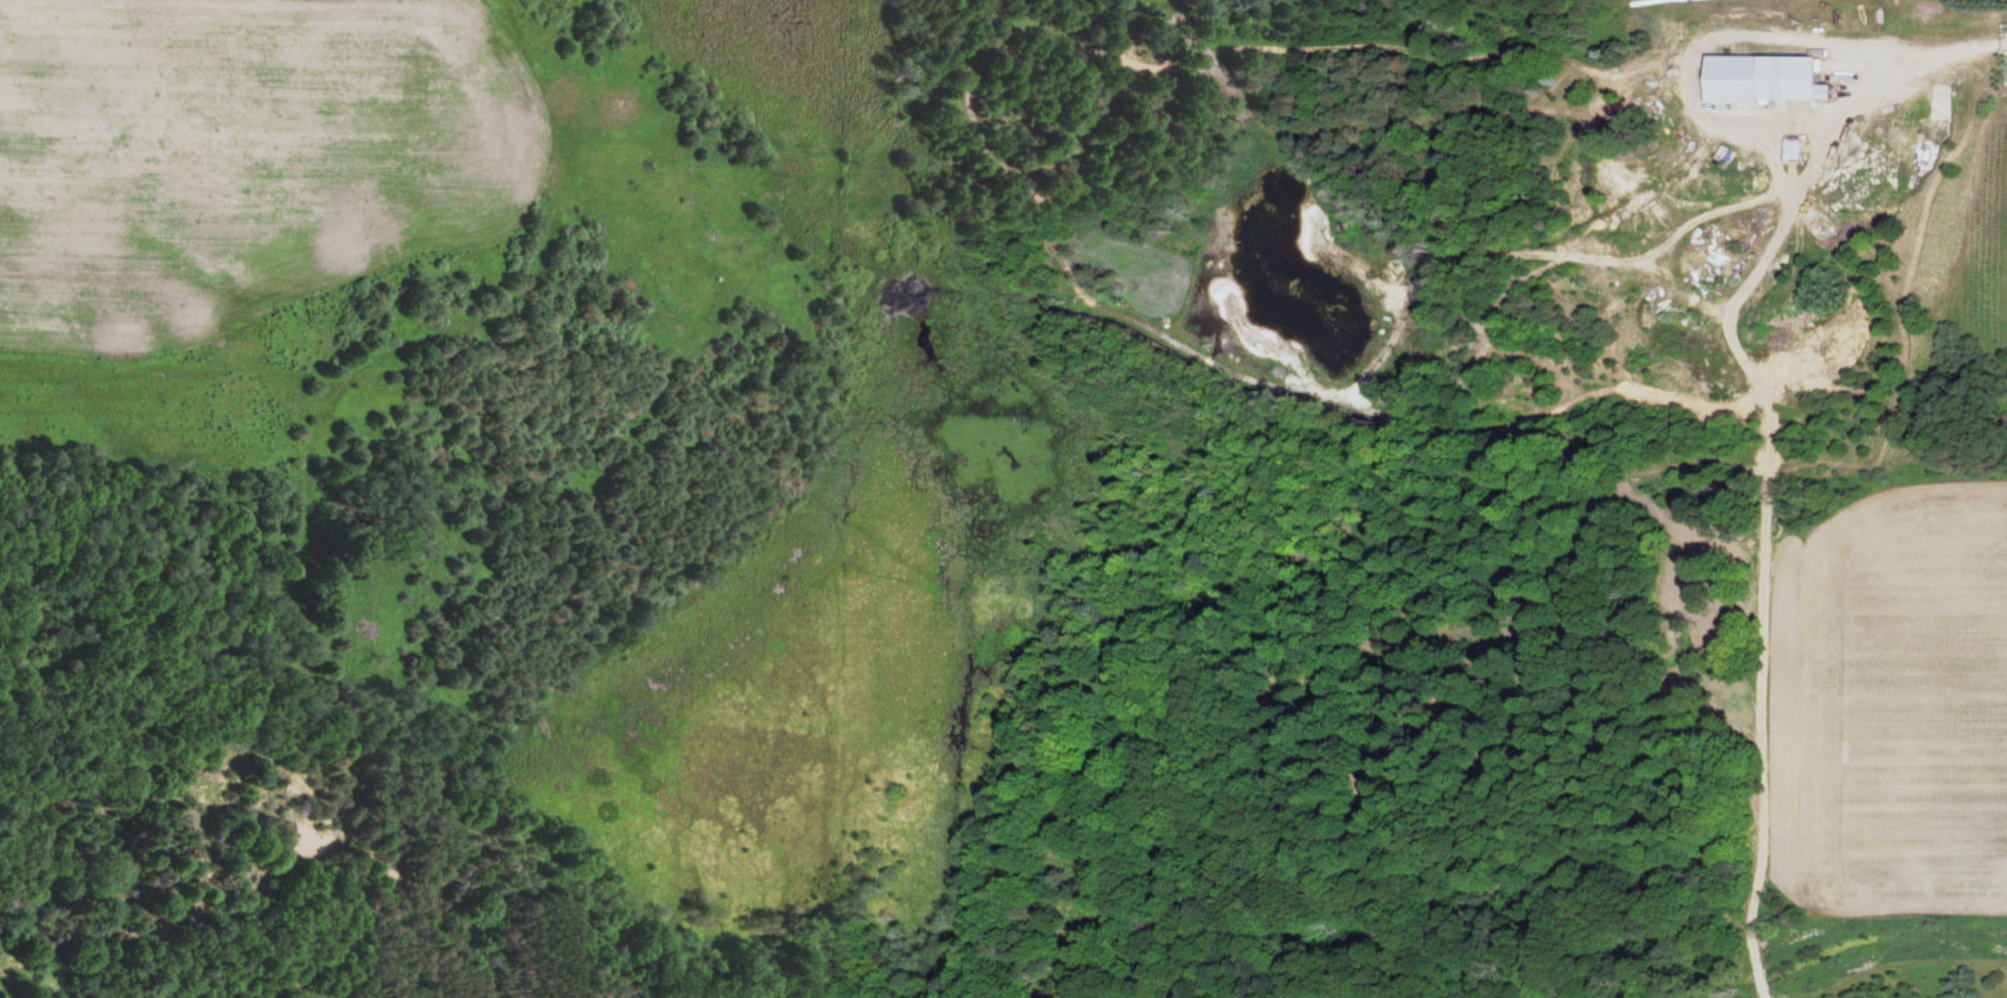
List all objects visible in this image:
building: (1779, 78)

